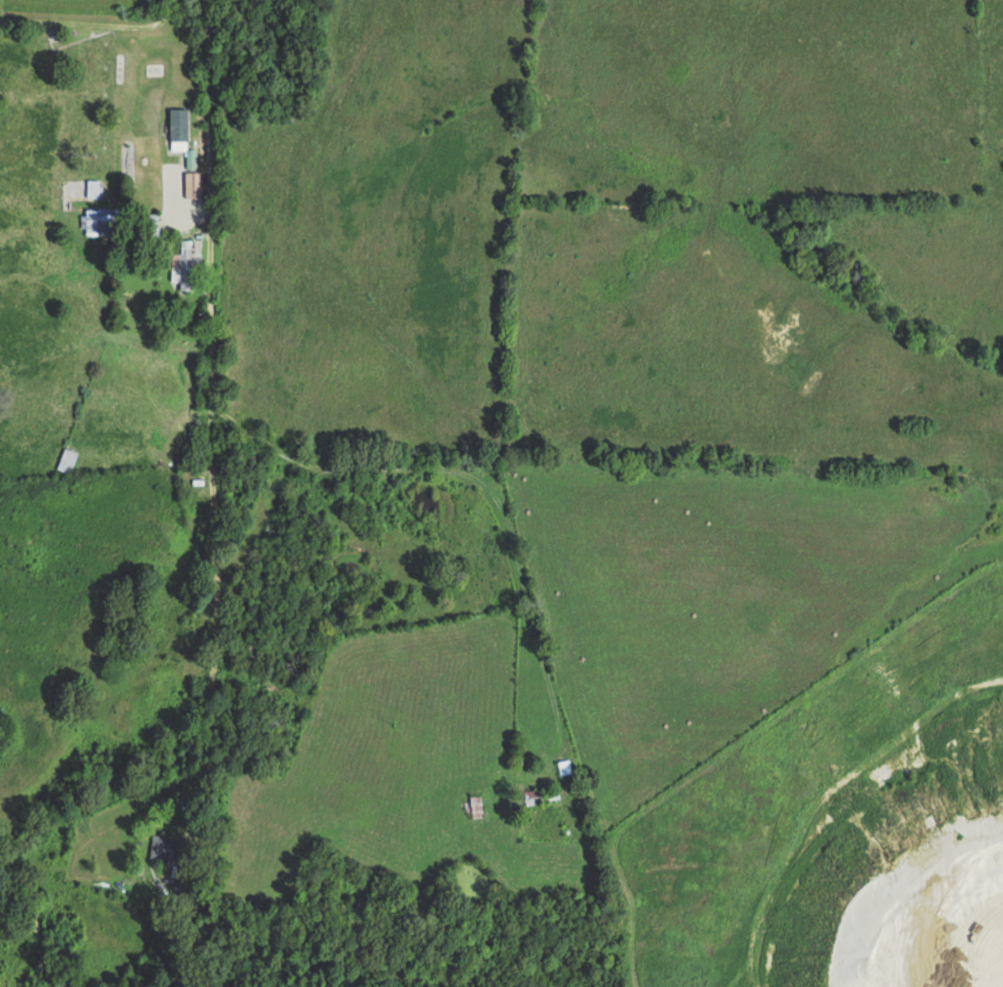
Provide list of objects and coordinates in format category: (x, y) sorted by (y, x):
road: (87, 42)
building: (177, 125)
road: (167, 145)
building: (192, 185)
building: (92, 189)
building: (149, 223)
building: (182, 266)
building: (66, 460)
building: (563, 767)
building: (539, 796)
building: (475, 804)
building: (162, 848)

